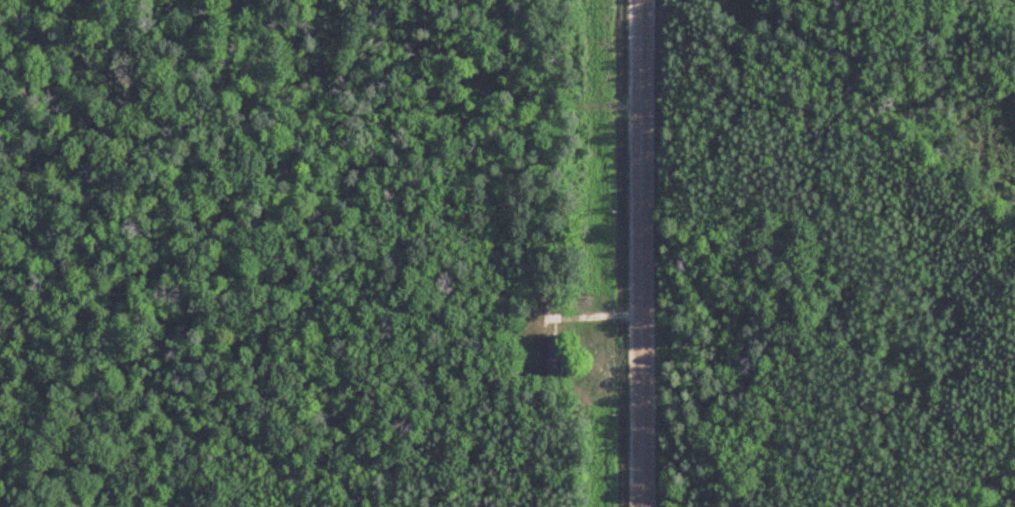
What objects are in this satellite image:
road: (633, 253)
building: (553, 353)

